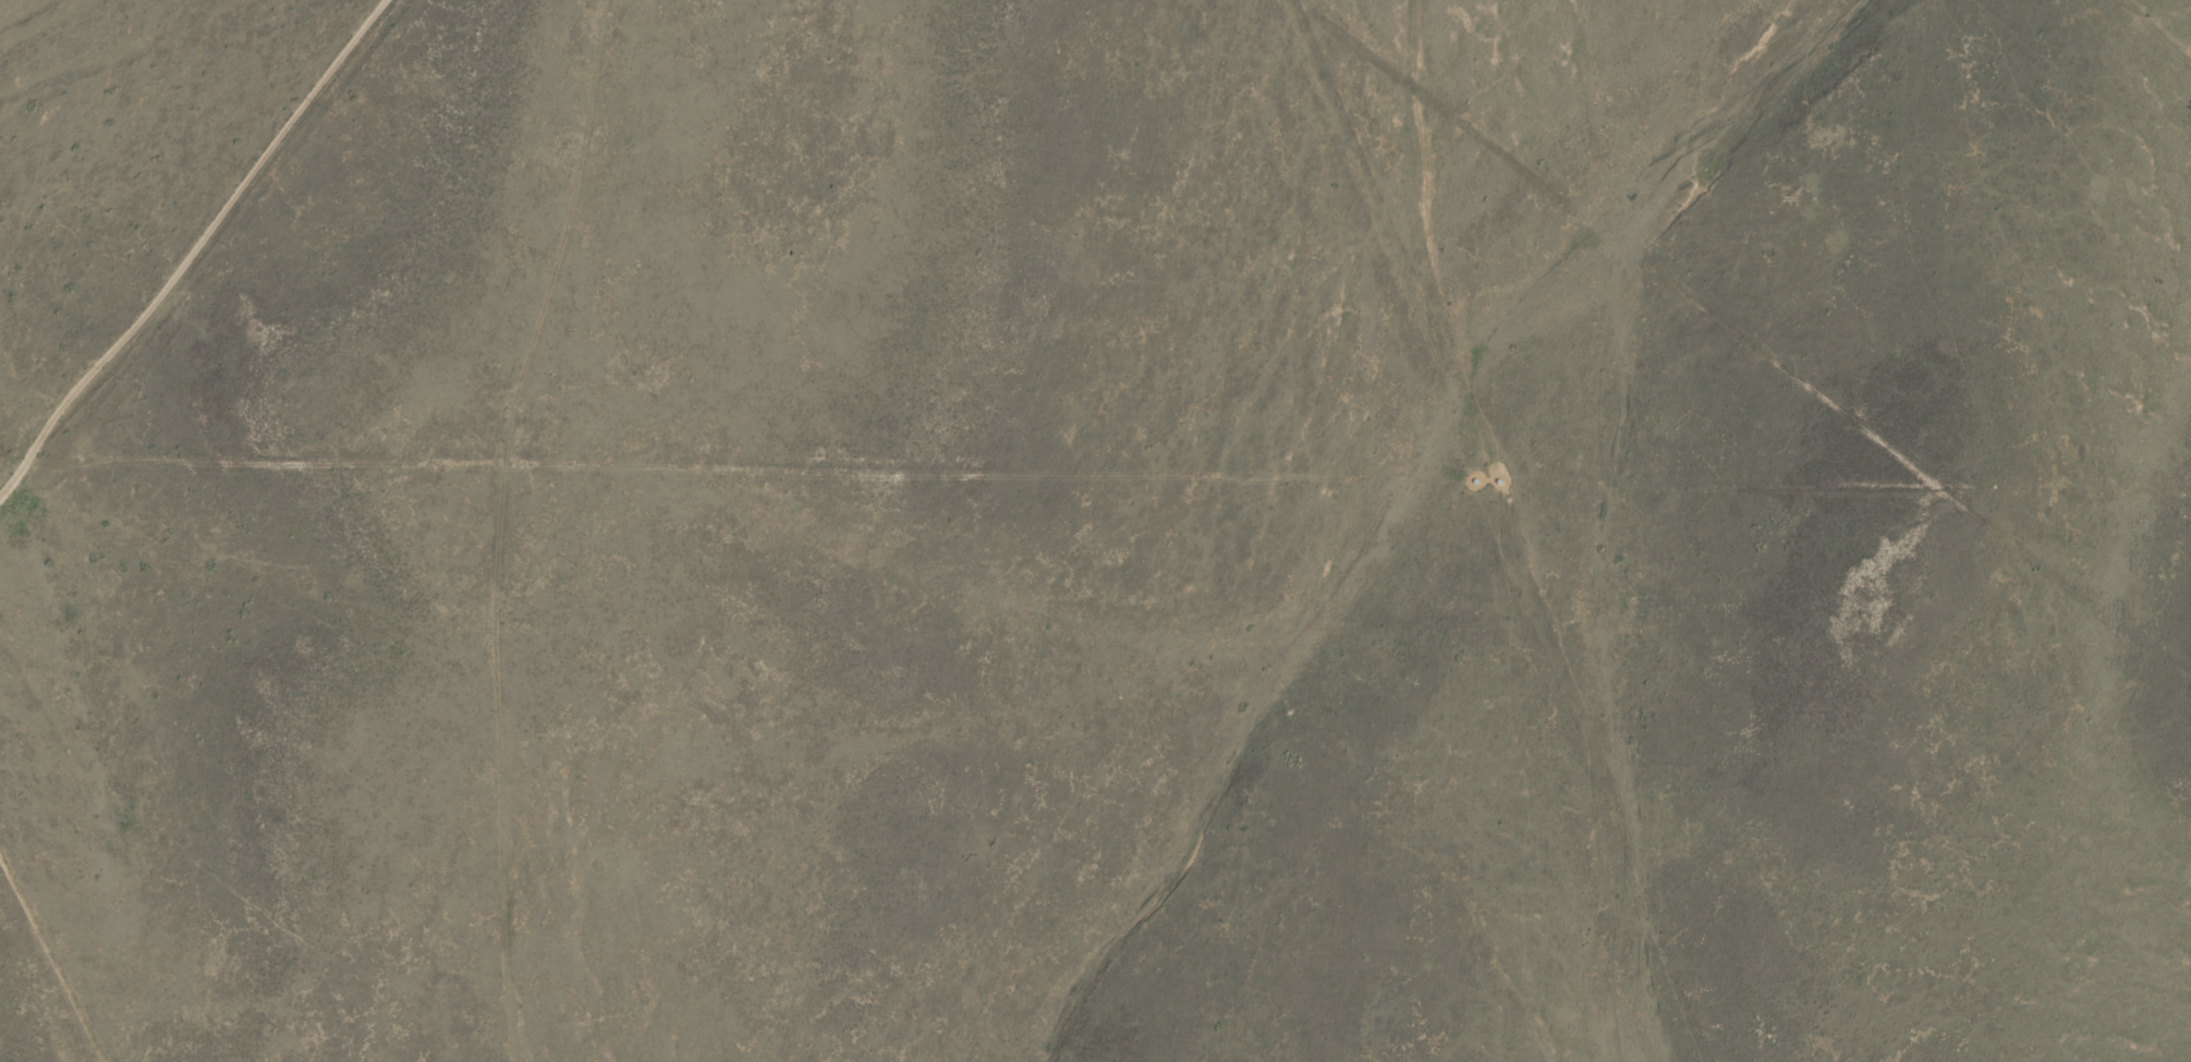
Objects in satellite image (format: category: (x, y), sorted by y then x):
road: (187, 230)
road: (1741, 340)
road: (8, 1053)

